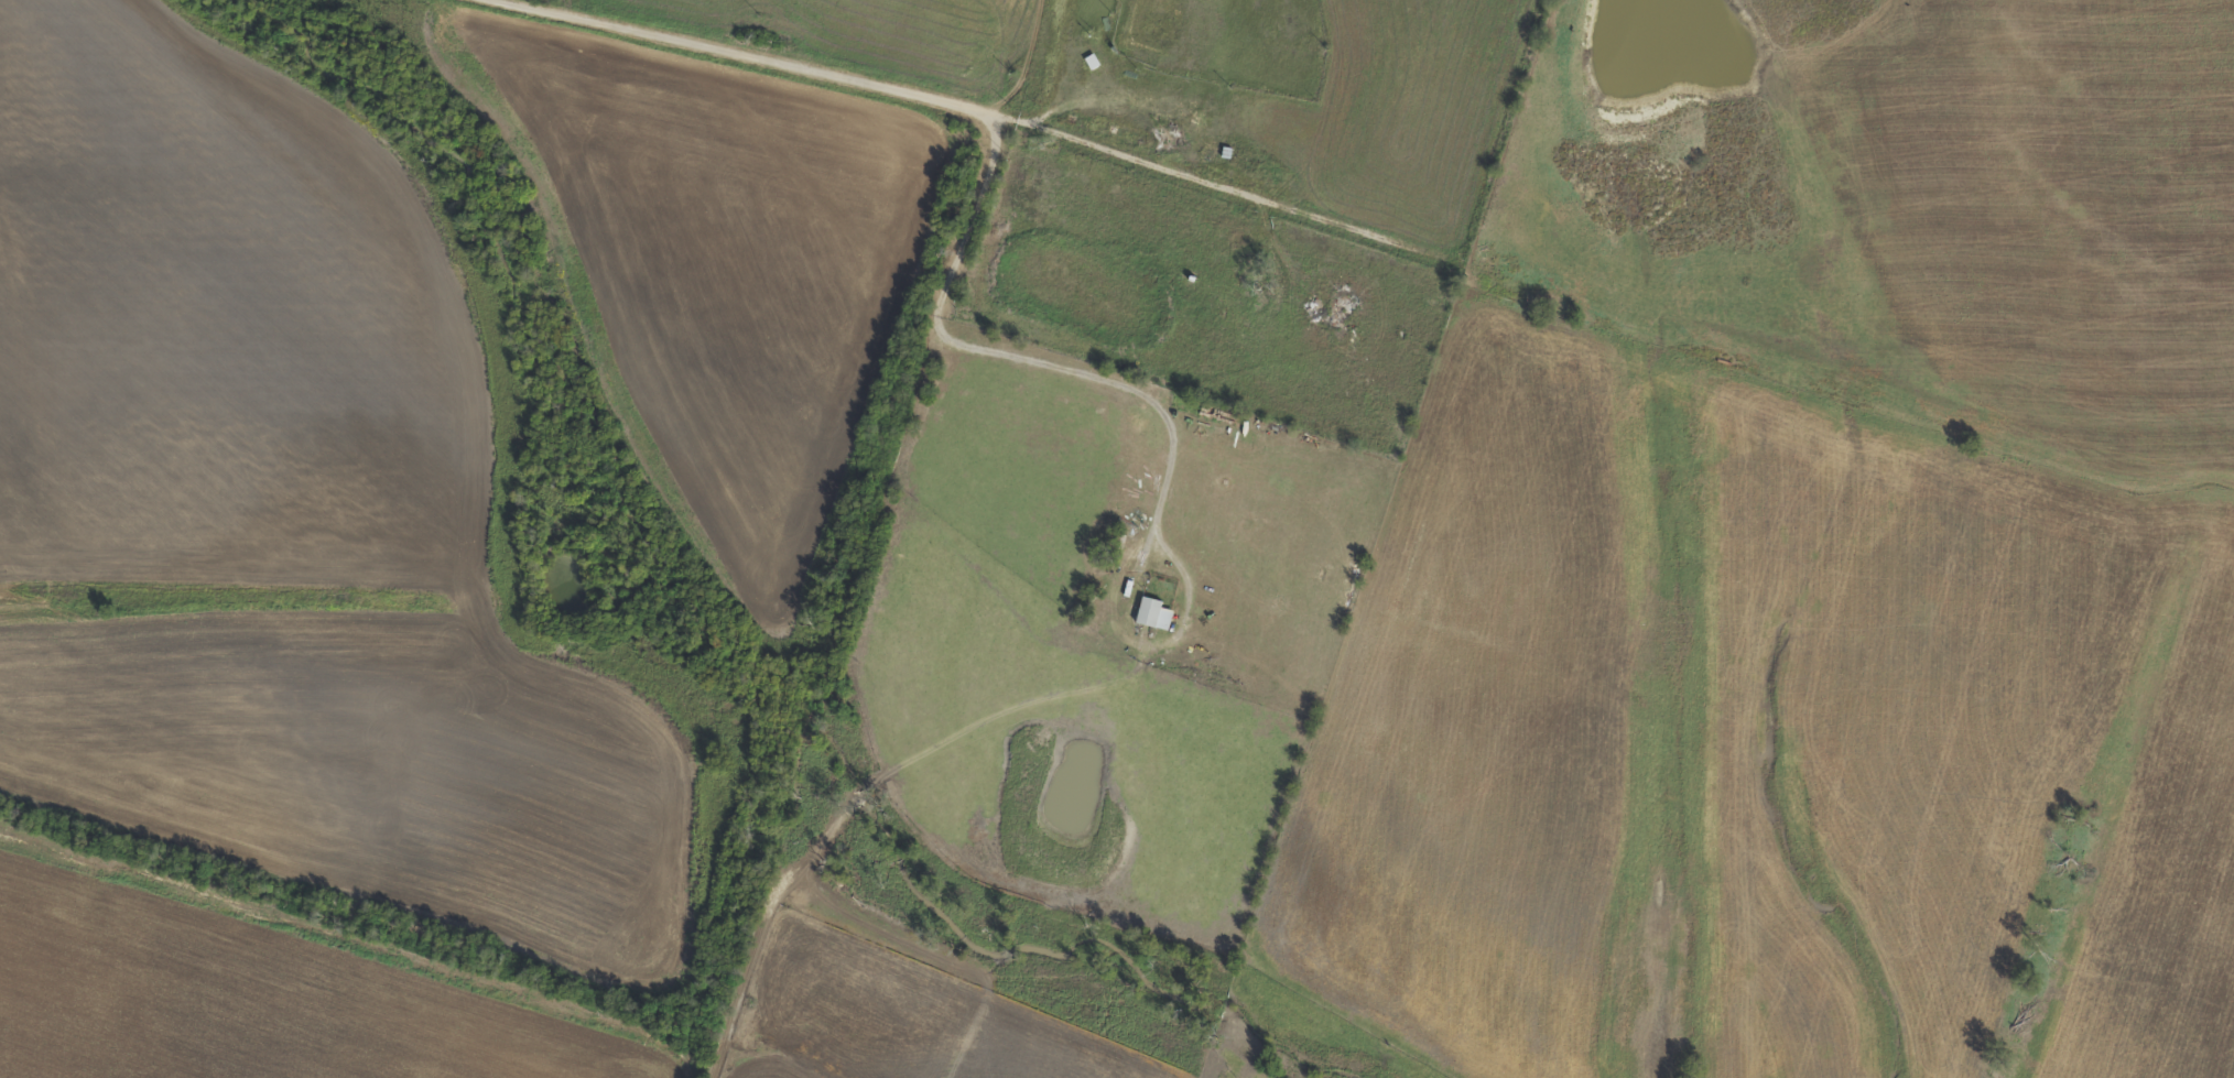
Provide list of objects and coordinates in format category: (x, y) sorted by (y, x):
road: (982, 118)
building: (1153, 612)

